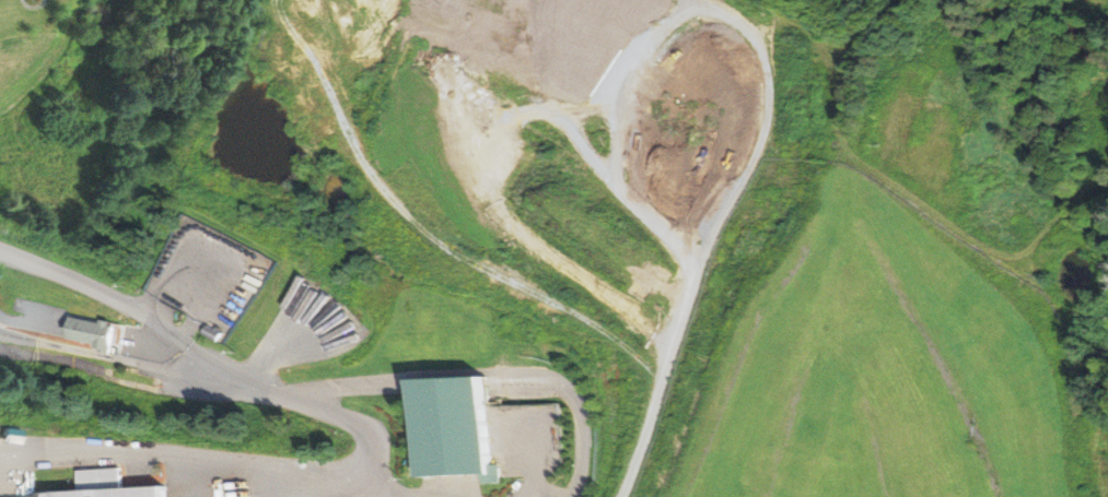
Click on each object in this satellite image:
road: (319, 5)
road: (908, 193)
road: (710, 236)
building: (92, 332)
building: (211, 332)
road: (214, 359)
park: (1100, 362)
road: (137, 363)
road: (477, 370)
building: (456, 427)
building: (107, 485)

